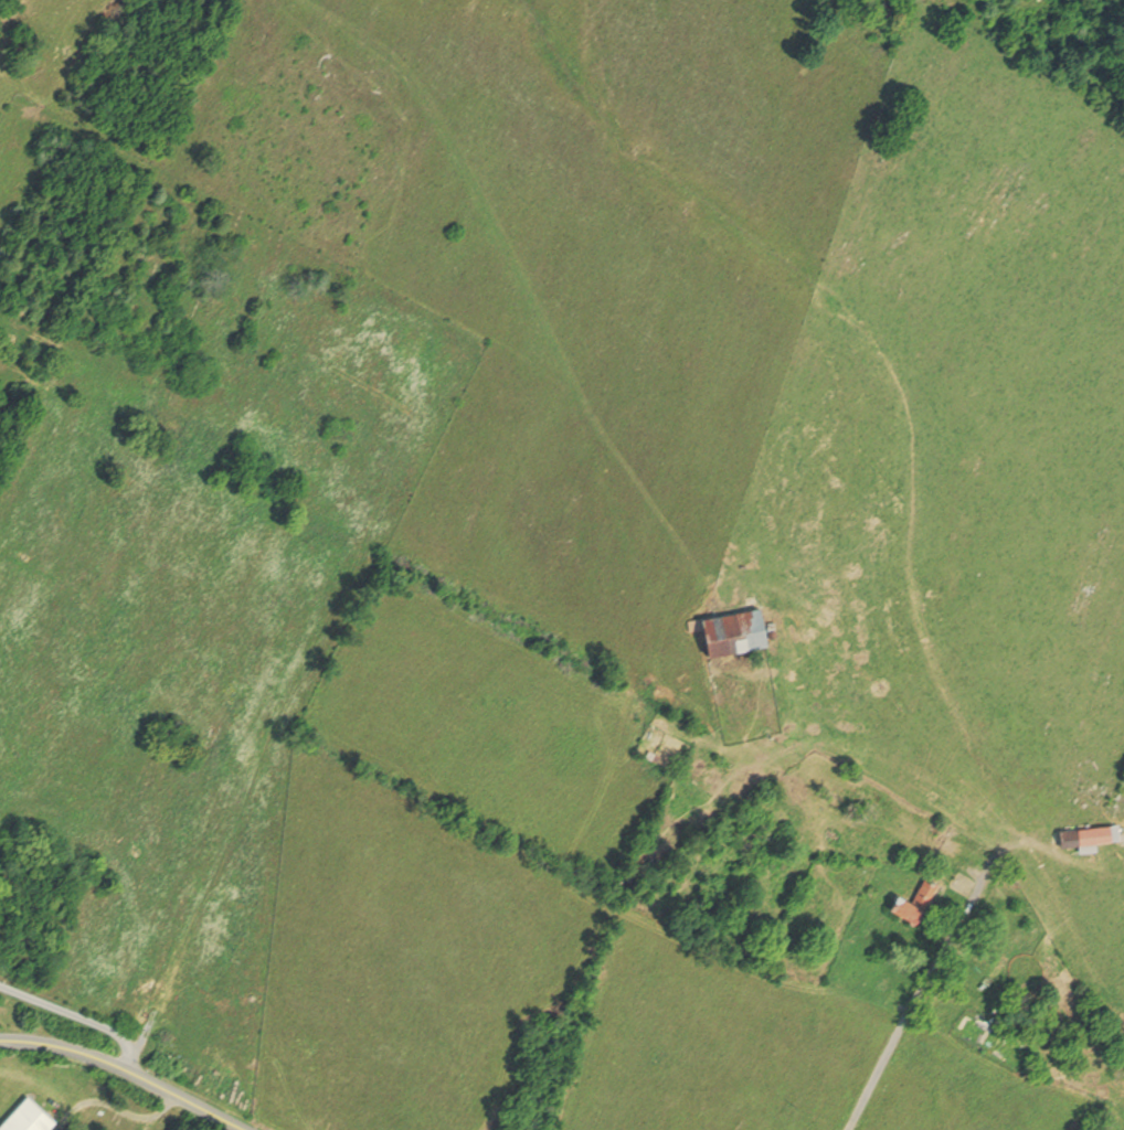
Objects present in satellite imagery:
road: (11, 382)
road: (236, 717)
road: (76, 1015)
road: (908, 1019)
road: (128, 1068)

